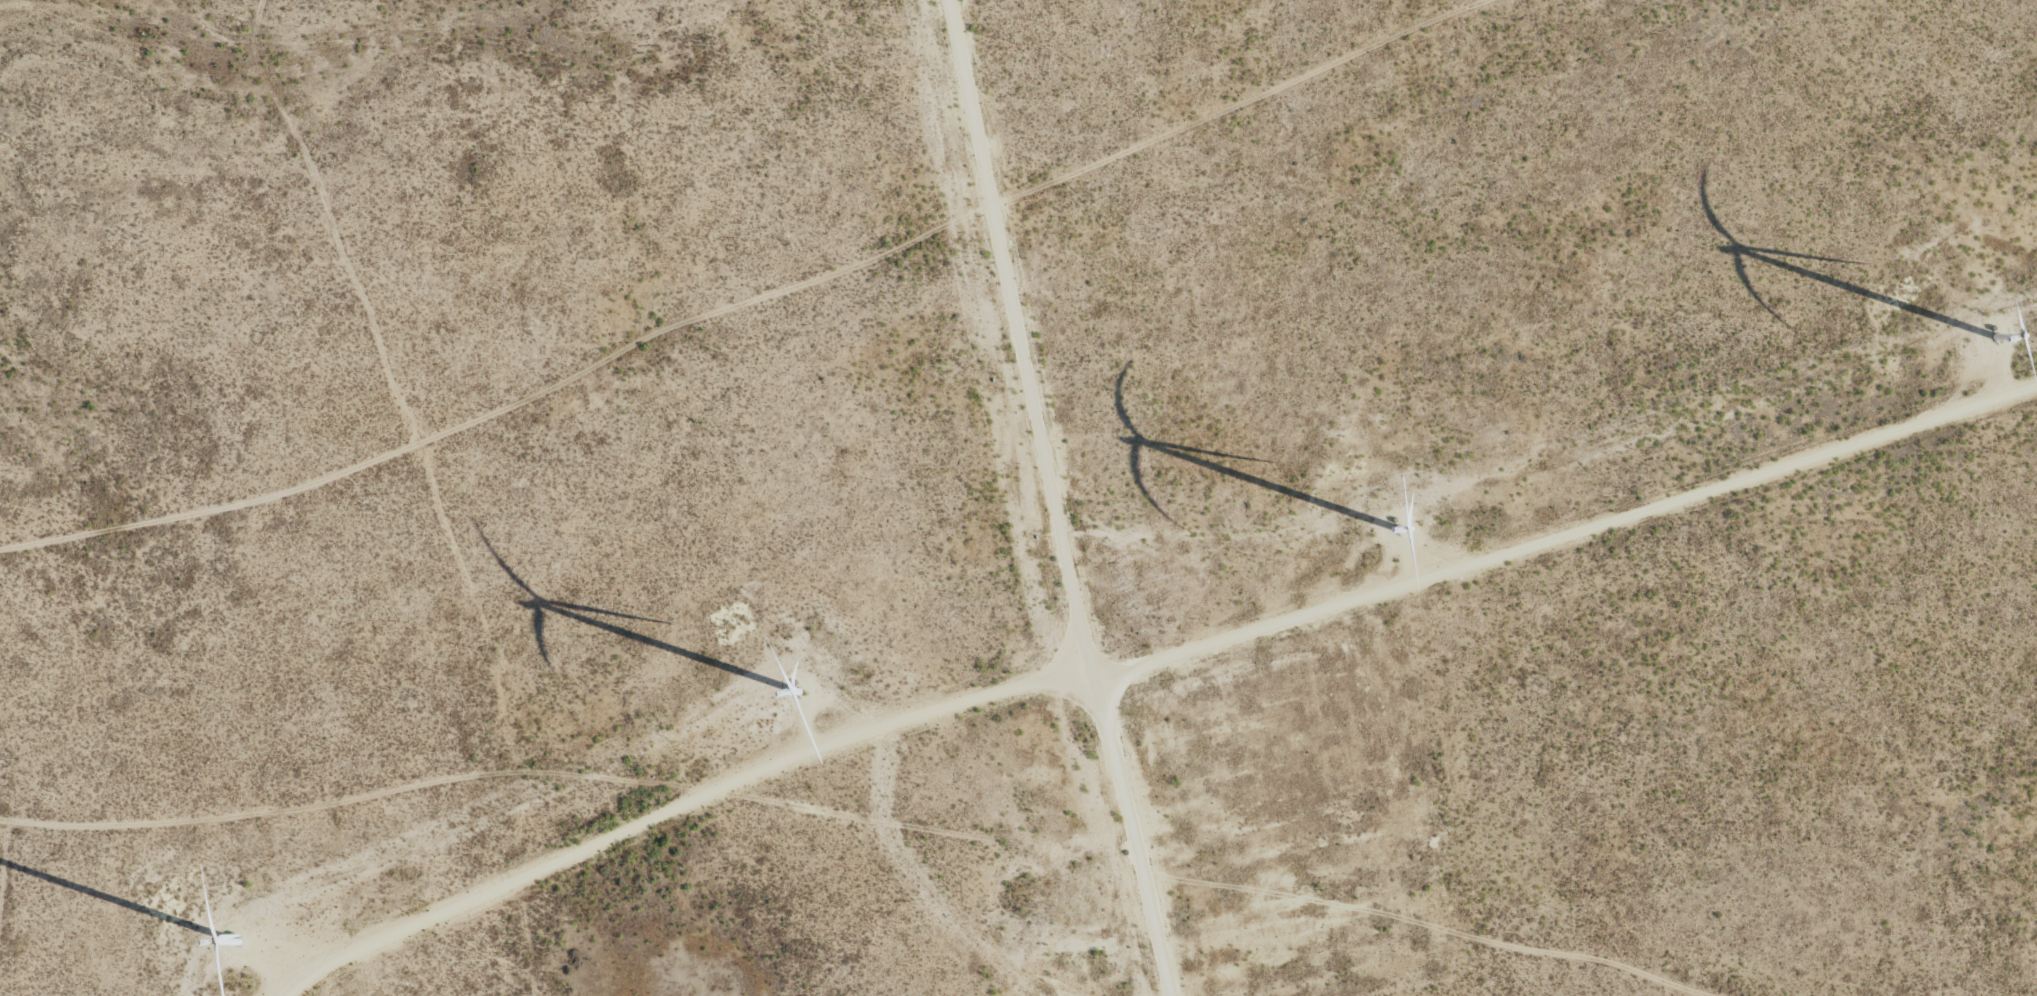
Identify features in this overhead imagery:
road: (735, 291)
wind turbine: (1989, 335)
wind turbine: (1388, 523)
wind turbine: (790, 682)
road: (961, 816)
wind turbine: (216, 939)

